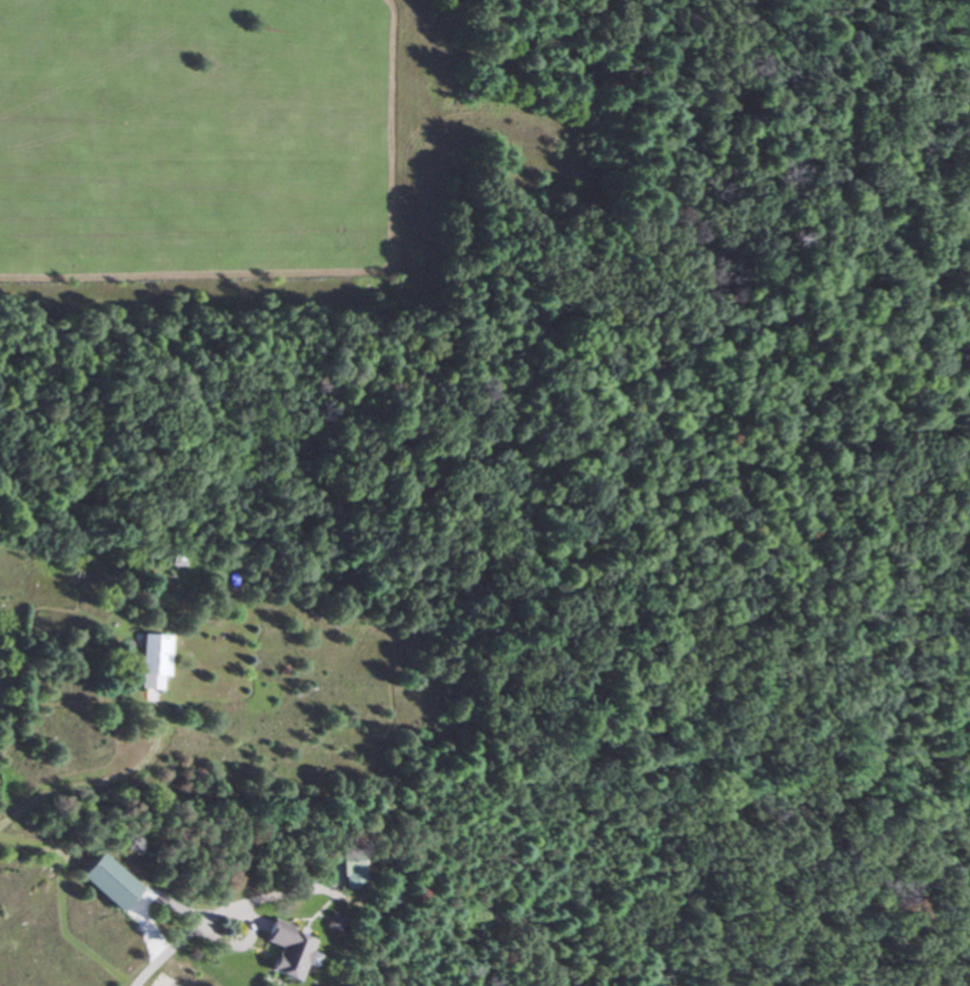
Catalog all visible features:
building: (151, 660)
road: (97, 778)
building: (351, 870)
building: (329, 921)
road: (182, 930)
building: (284, 950)

